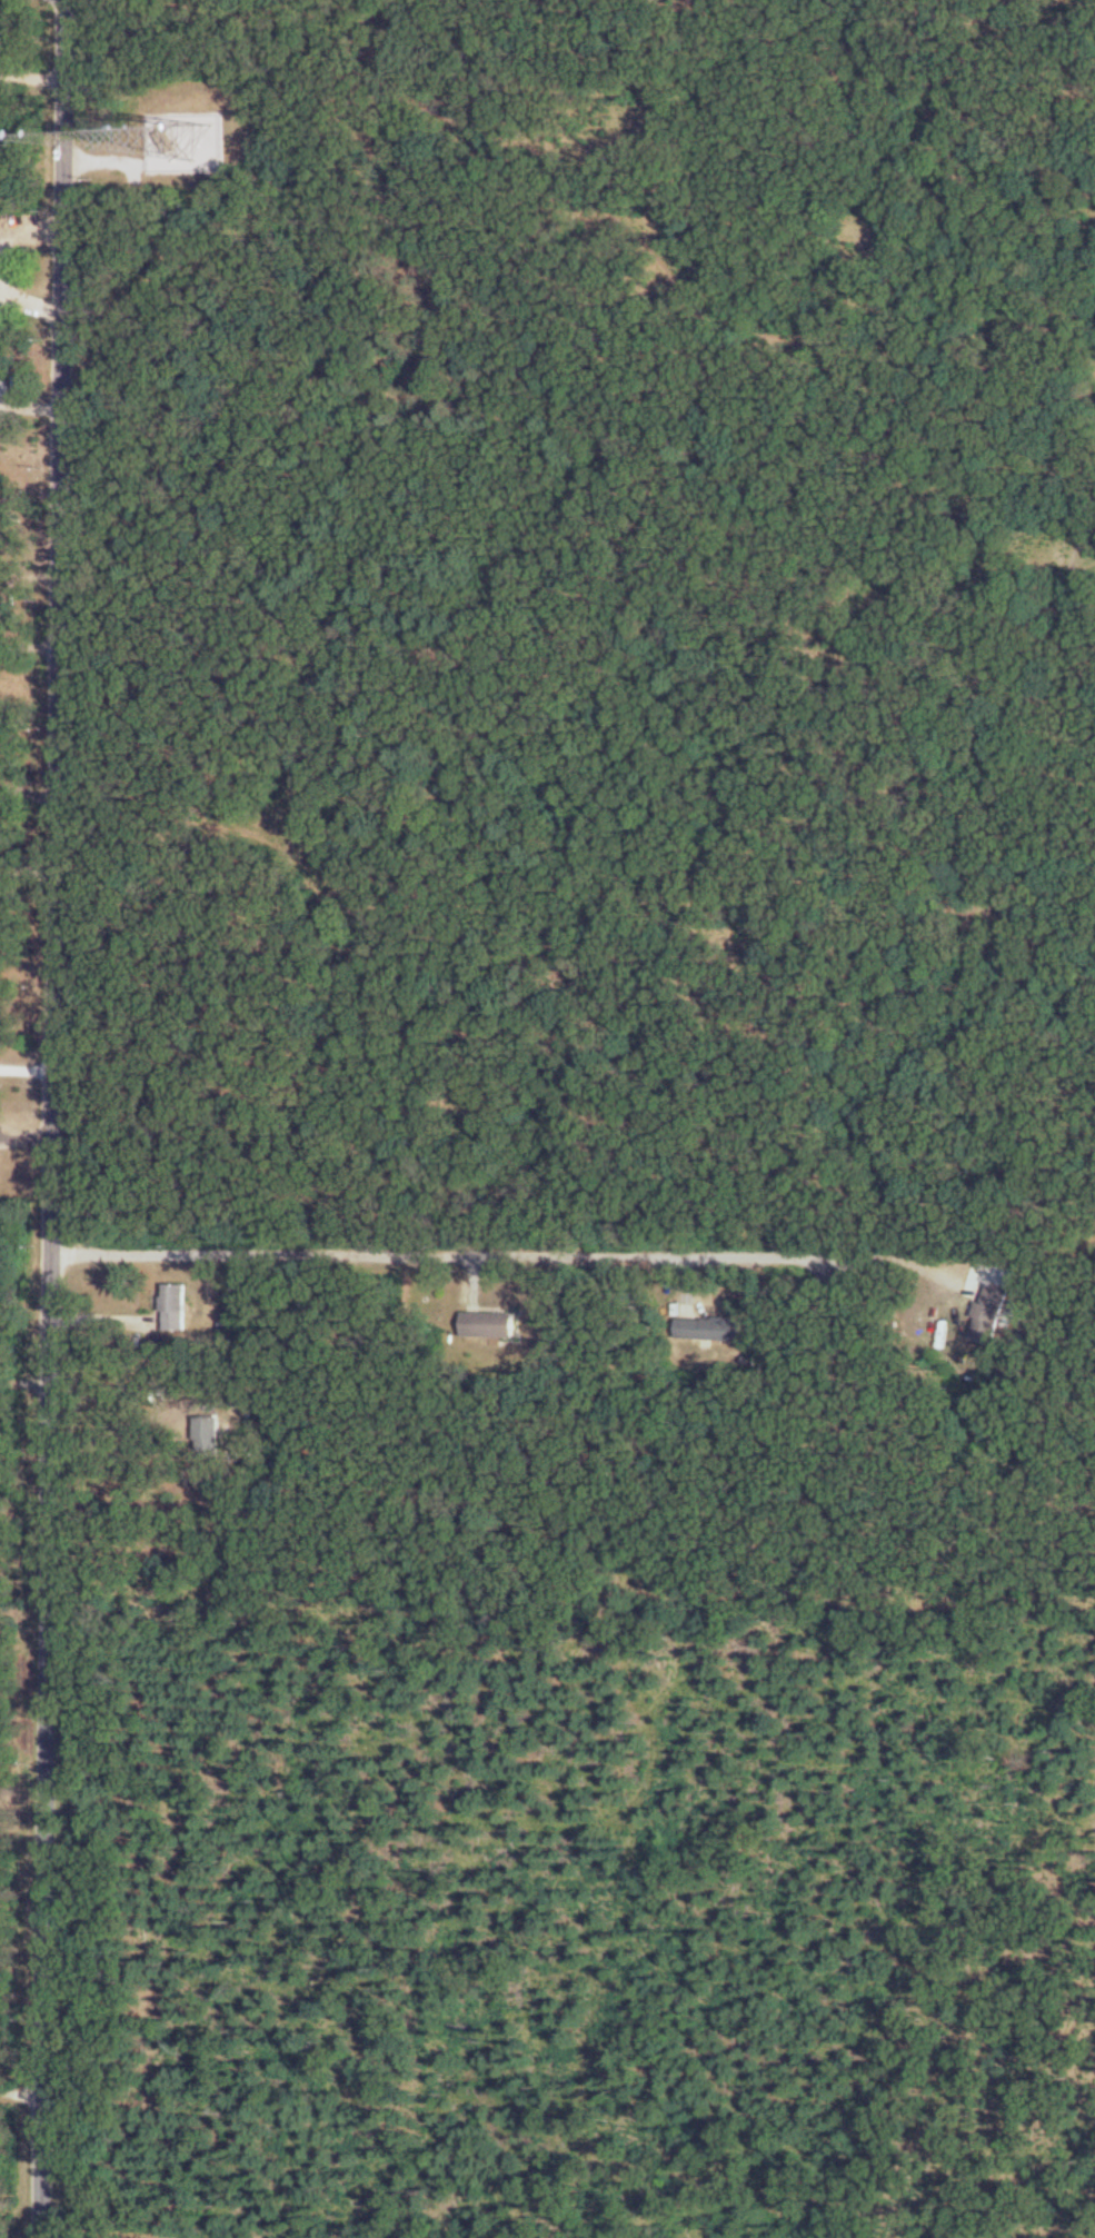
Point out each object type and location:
road: (3, 260)
road: (24, 645)
road: (26, 788)
road: (24, 866)
road: (26, 1067)
road: (52, 1118)
road: (492, 1254)
building: (177, 1306)
building: (991, 1314)
building: (490, 1324)
building: (711, 1327)
road: (26, 1382)
building: (209, 1436)
road: (18, 2091)

